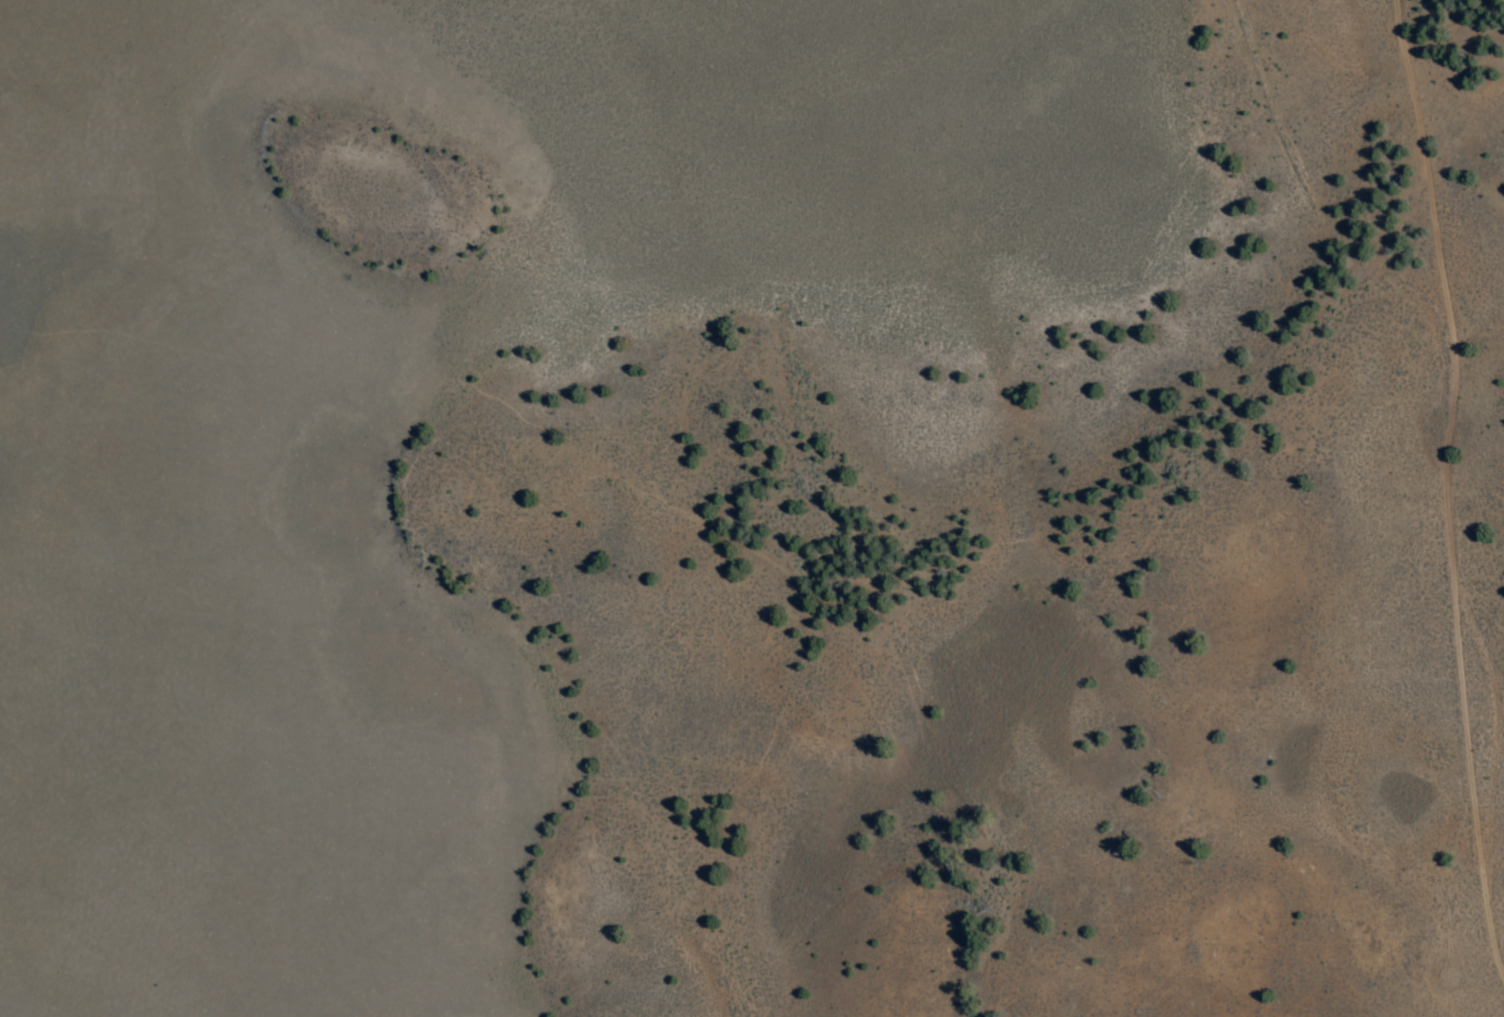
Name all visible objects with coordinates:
road: (1447, 488)

